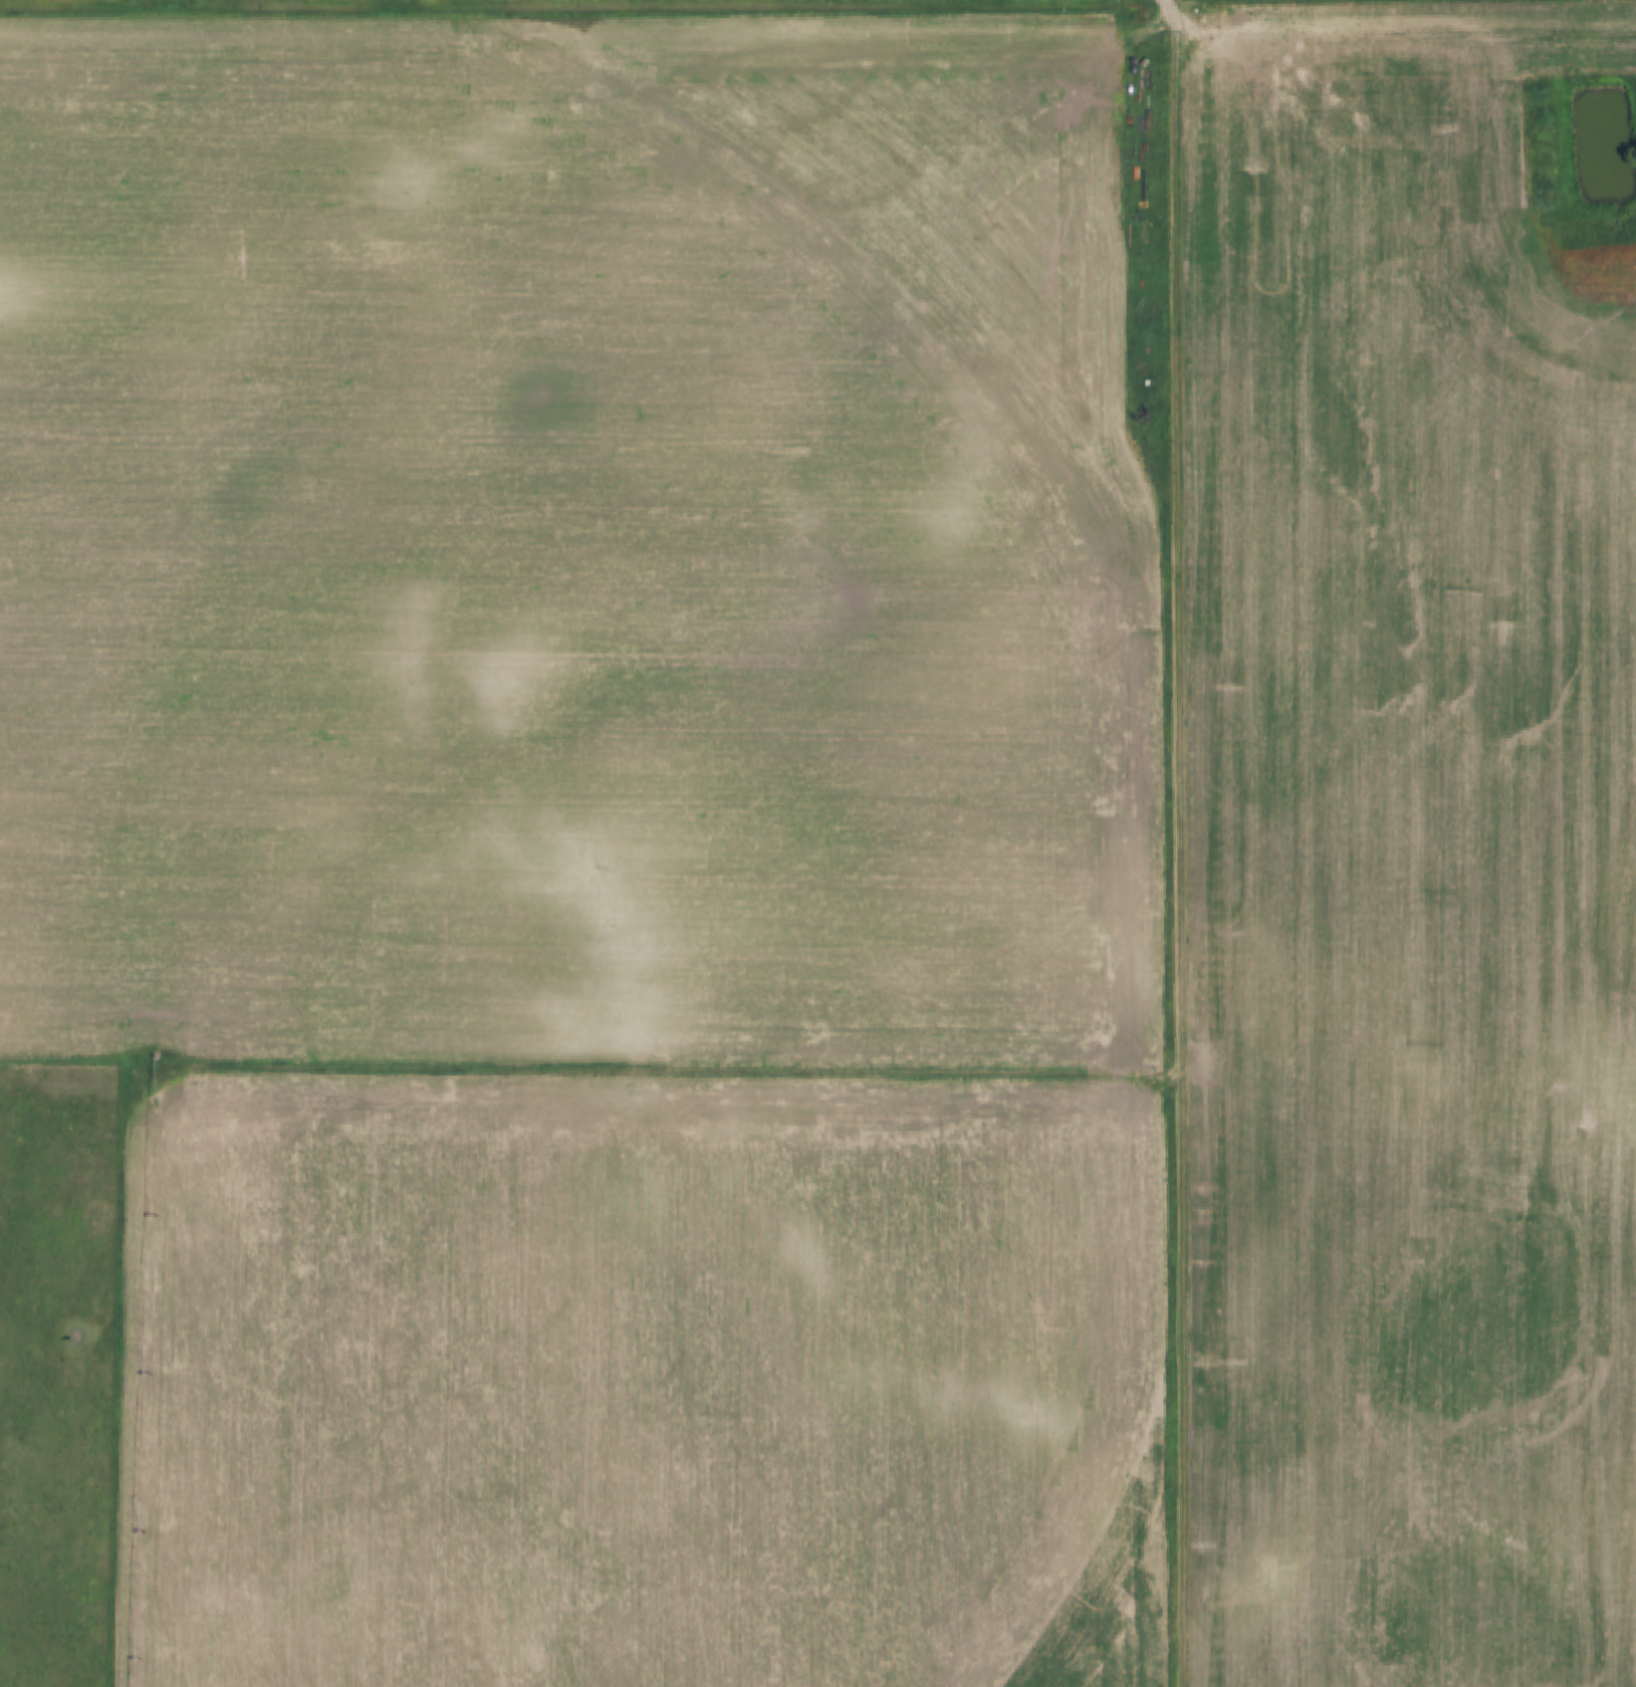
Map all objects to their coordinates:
road: (1179, 842)

